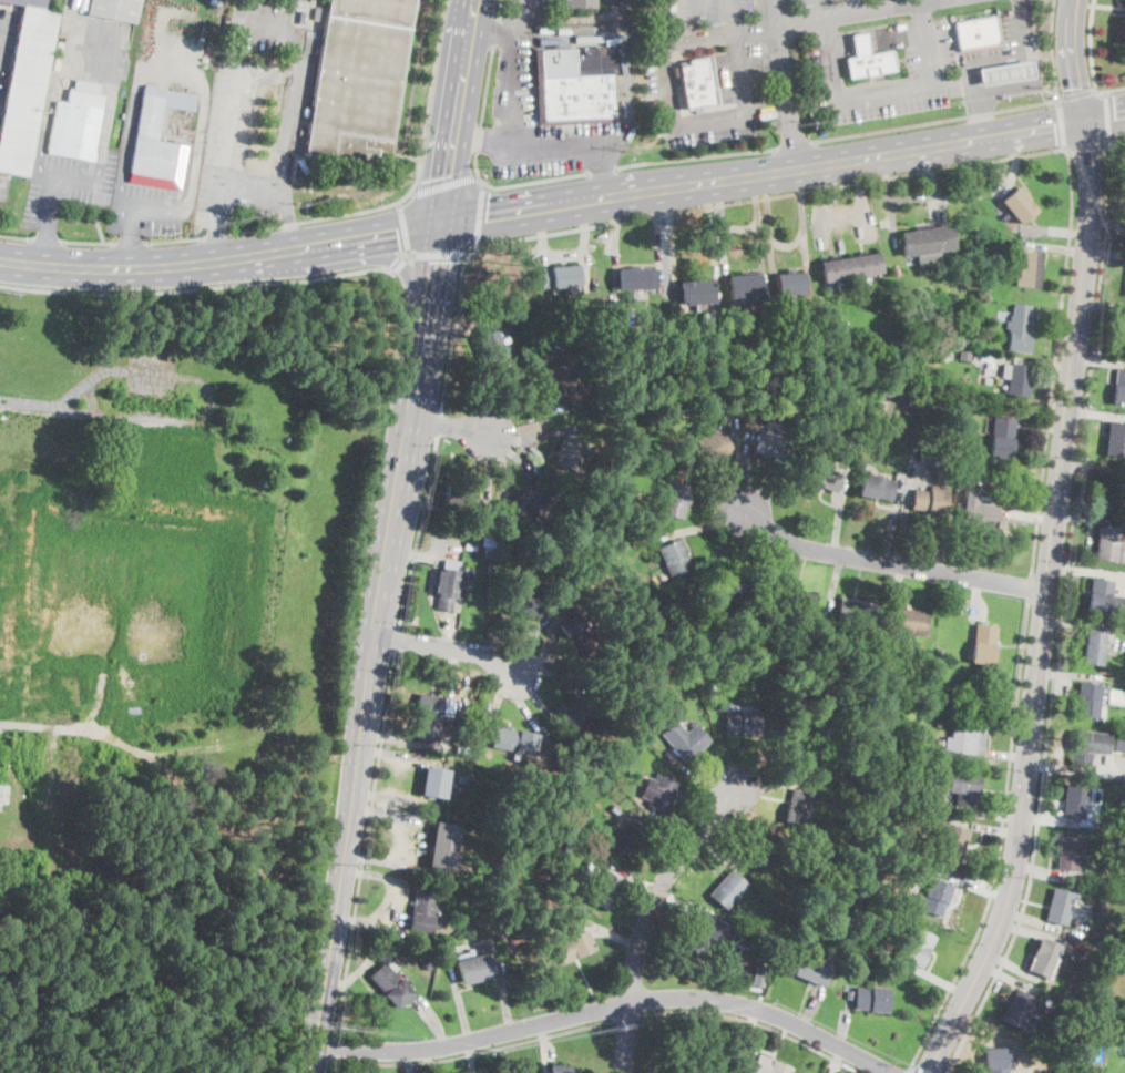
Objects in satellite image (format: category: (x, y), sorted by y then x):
parking lot: (971, 2)
building: (577, 3)
parking lot: (617, 6)
road: (852, 6)
road: (1022, 7)
parking lot: (525, 8)
parking lot: (724, 8)
building: (114, 9)
road: (499, 9)
road: (811, 9)
road: (523, 13)
road: (620, 13)
road: (732, 16)
road: (683, 19)
road: (790, 21)
parking lot: (264, 25)
road: (545, 28)
road: (495, 33)
building: (975, 33)
road: (73, 34)
road: (1021, 34)
building: (1124, 34)
road: (875, 35)
parking lot: (6, 40)
parking lot: (1010, 43)
road: (1088, 44)
road: (1053, 50)
road: (1016, 57)
building: (867, 59)
road: (1076, 59)
parking lot: (931, 60)
road: (139, 70)
building: (1003, 73)
building: (357, 76)
road: (296, 78)
parking lot: (514, 80)
parking lot: (742, 80)
road: (784, 83)
building: (27, 85)
building: (575, 86)
building: (696, 88)
road: (1008, 88)
road: (886, 91)
road: (1108, 91)
road: (1075, 93)
road: (979, 101)
road: (458, 109)
road: (233, 114)
road: (626, 114)
road: (1106, 116)
road: (709, 120)
traffic signals: (1084, 120)
road: (934, 121)
building: (78, 123)
road: (1062, 124)
building: (146, 135)
parking lot: (252, 135)
road: (481, 136)
road: (1115, 140)
road: (1086, 144)
road: (509, 145)
road: (791, 146)
road: (694, 156)
road: (1014, 166)
road: (475, 168)
road: (783, 168)
road: (601, 170)
parking lot: (74, 175)
road: (91, 180)
road: (935, 181)
parking lot: (3, 185)
road: (444, 185)
road: (415, 188)
road: (890, 190)
road: (863, 193)
road: (250, 195)
road: (770, 195)
road: (914, 195)
road: (52, 202)
building: (1019, 204)
road: (819, 207)
parking lot: (147, 210)
road: (480, 214)
road: (842, 214)
building: (1006, 214)
road: (286, 217)
traffic signals: (441, 218)
road: (770, 219)
road: (757, 221)
road: (403, 226)
road: (617, 227)
road: (804, 227)
road: (389, 228)
road: (1055, 231)
road: (656, 234)
road: (671, 235)
road: (216, 236)
road: (714, 236)
road: (216, 237)
road: (17, 238)
road: (131, 238)
road: (47, 242)
road: (314, 243)
building: (925, 243)
road: (132, 244)
road: (790, 244)
road: (44, 245)
road: (1056, 246)
road: (1104, 252)
road: (565, 253)
road: (407, 254)
road: (410, 254)
road: (441, 254)
road: (387, 256)
road: (398, 264)
road: (145, 265)
building: (850, 267)
building: (1030, 269)
building: (560, 276)
building: (637, 279)
building: (789, 283)
building: (745, 287)
road: (197, 288)
building: (696, 292)
building: (1124, 294)
road: (1102, 305)
building: (767, 307)
road: (1053, 315)
building: (1002, 318)
road: (453, 329)
building: (1019, 329)
building: (1122, 331)
building: (965, 344)
building: (491, 347)
building: (940, 352)
building: (963, 355)
road: (1098, 359)
road: (1026, 360)
road: (1055, 360)
road: (153, 372)
parking lot: (152, 374)
road: (504, 380)
building: (563, 380)
building: (1017, 381)
road: (514, 386)
building: (1118, 388)
building: (773, 389)
road: (68, 399)
road: (523, 410)
road: (1096, 412)
road: (161, 419)
road: (441, 423)
road: (447, 425)
road: (1042, 425)
road: (536, 435)
building: (1001, 437)
building: (900, 438)
building: (1115, 439)
building: (712, 443)
building: (773, 446)
road: (520, 451)
building: (569, 457)
road: (485, 462)
road: (502, 462)
road: (738, 462)
road: (1091, 468)
building: (942, 476)
building: (825, 477)
road: (749, 483)
building: (877, 488)
building: (1112, 492)
building: (677, 494)
road: (717, 495)
building: (459, 497)
building: (533, 502)
building: (929, 502)
road: (416, 505)
road: (841, 514)
building: (978, 514)
road: (1026, 515)
road: (1084, 518)
road: (893, 523)
road: (696, 528)
road: (904, 529)
road: (1091, 531)
road: (420, 533)
building: (491, 535)
building: (635, 541)
building: (1106, 543)
building: (470, 544)
building: (494, 553)
road: (421, 555)
building: (673, 559)
road: (776, 563)
road: (889, 563)
road: (786, 566)
road: (1086, 571)
road: (833, 582)
road: (899, 584)
building: (728, 586)
building: (448, 587)
road: (1031, 589)
road: (978, 596)
building: (1105, 599)
building: (798, 600)
building: (525, 602)
road: (1043, 605)
building: (855, 611)
road: (1060, 615)
building: (907, 621)
road: (1074, 622)
road: (452, 624)
building: (575, 632)
road: (397, 640)
road: (528, 643)
building: (983, 643)
road: (370, 644)
road: (545, 645)
building: (805, 645)
road: (446, 646)
building: (1094, 647)
building: (939, 653)
road: (555, 663)
road: (545, 671)
road: (453, 673)
road: (1070, 674)
building: (778, 693)
road: (538, 697)
building: (1115, 697)
building: (1090, 698)
road: (498, 699)
road: (523, 704)
building: (585, 709)
building: (429, 716)
building: (740, 723)
road: (82, 729)
road: (393, 737)
building: (967, 737)
building: (685, 739)
building: (514, 740)
building: (1119, 744)
building: (1086, 746)
building: (792, 749)
building: (1112, 749)
building: (1121, 750)
road: (391, 753)
road: (1008, 753)
road: (735, 765)
road: (755, 769)
road: (1075, 770)
road: (697, 775)
building: (825, 779)
building: (462, 780)
building: (434, 783)
road: (774, 785)
building: (963, 787)
building: (461, 790)
building: (659, 791)
road: (387, 795)
building: (1075, 801)
building: (798, 808)
building: (613, 809)
road: (758, 810)
road: (984, 813)
road: (387, 816)
road: (1053, 819)
road: (674, 826)
road: (989, 827)
road: (665, 835)
road: (727, 837)
building: (628, 839)
building: (1121, 840)
road: (366, 841)
road: (1000, 842)
building: (924, 844)
building: (952, 845)
building: (442, 846)
building: (570, 846)
building: (856, 847)
building: (767, 851)
building: (1068, 852)
road: (712, 857)
road: (385, 861)
road: (1041, 871)
road: (380, 875)
road: (633, 876)
building: (811, 880)
building: (600, 885)
road: (974, 887)
building: (727, 888)
building: (877, 890)
building: (933, 898)
road: (675, 902)
building: (777, 905)
building: (1060, 906)
building: (1101, 906)
building: (580, 911)
building: (423, 912)
road: (646, 918)
road: (1035, 920)
road: (1031, 930)
building: (700, 933)
road: (614, 936)
building: (574, 946)
road: (469, 947)
building: (917, 948)
building: (879, 952)
building: (1043, 957)
building: (1062, 960)
building: (429, 962)
road: (364, 968)
building: (474, 969)
building: (812, 971)
building: (748, 978)
road: (937, 979)
road: (1011, 980)
building: (391, 985)
building: (871, 999)
building: (1045, 1001)
road: (610, 1008)
road: (810, 1008)
building: (1017, 1012)
road: (626, 1015)
road: (432, 1021)
road: (755, 1022)
road: (846, 1025)
road: (753, 1033)
traffic signals: (316, 1042)
road: (543, 1042)
road: (334, 1046)
building: (1124, 1051)
road: (473, 1053)
road: (471, 1056)
road: (429, 1060)
road: (835, 1060)
building: (998, 1060)
road: (407, 1061)
building: (710, 1061)
road: (330, 1065)
building: (769, 1066)
building: (559, 1069)
building: (689, 1069)
road: (908, 1070)
road: (916, 1070)
building: (1061, 1071)

